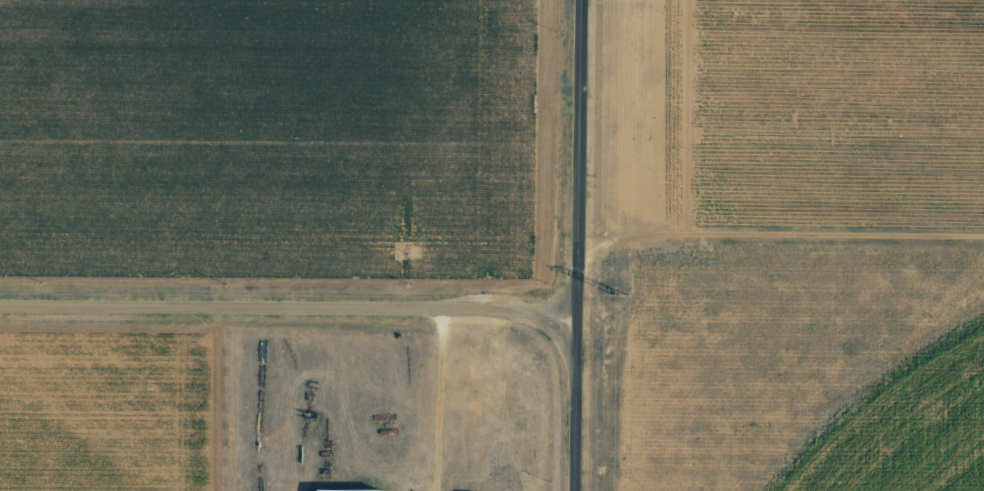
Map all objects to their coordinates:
road: (588, 245)
road: (786, 250)
power tower: (624, 294)
road: (294, 305)
building: (351, 489)

